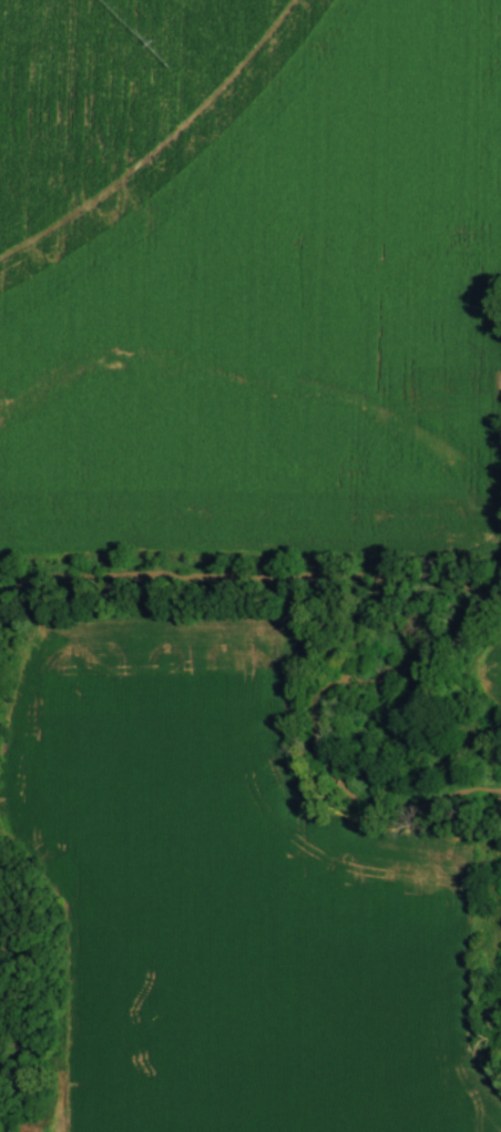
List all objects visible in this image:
river: (473, 591)
crop: (229, 897)

